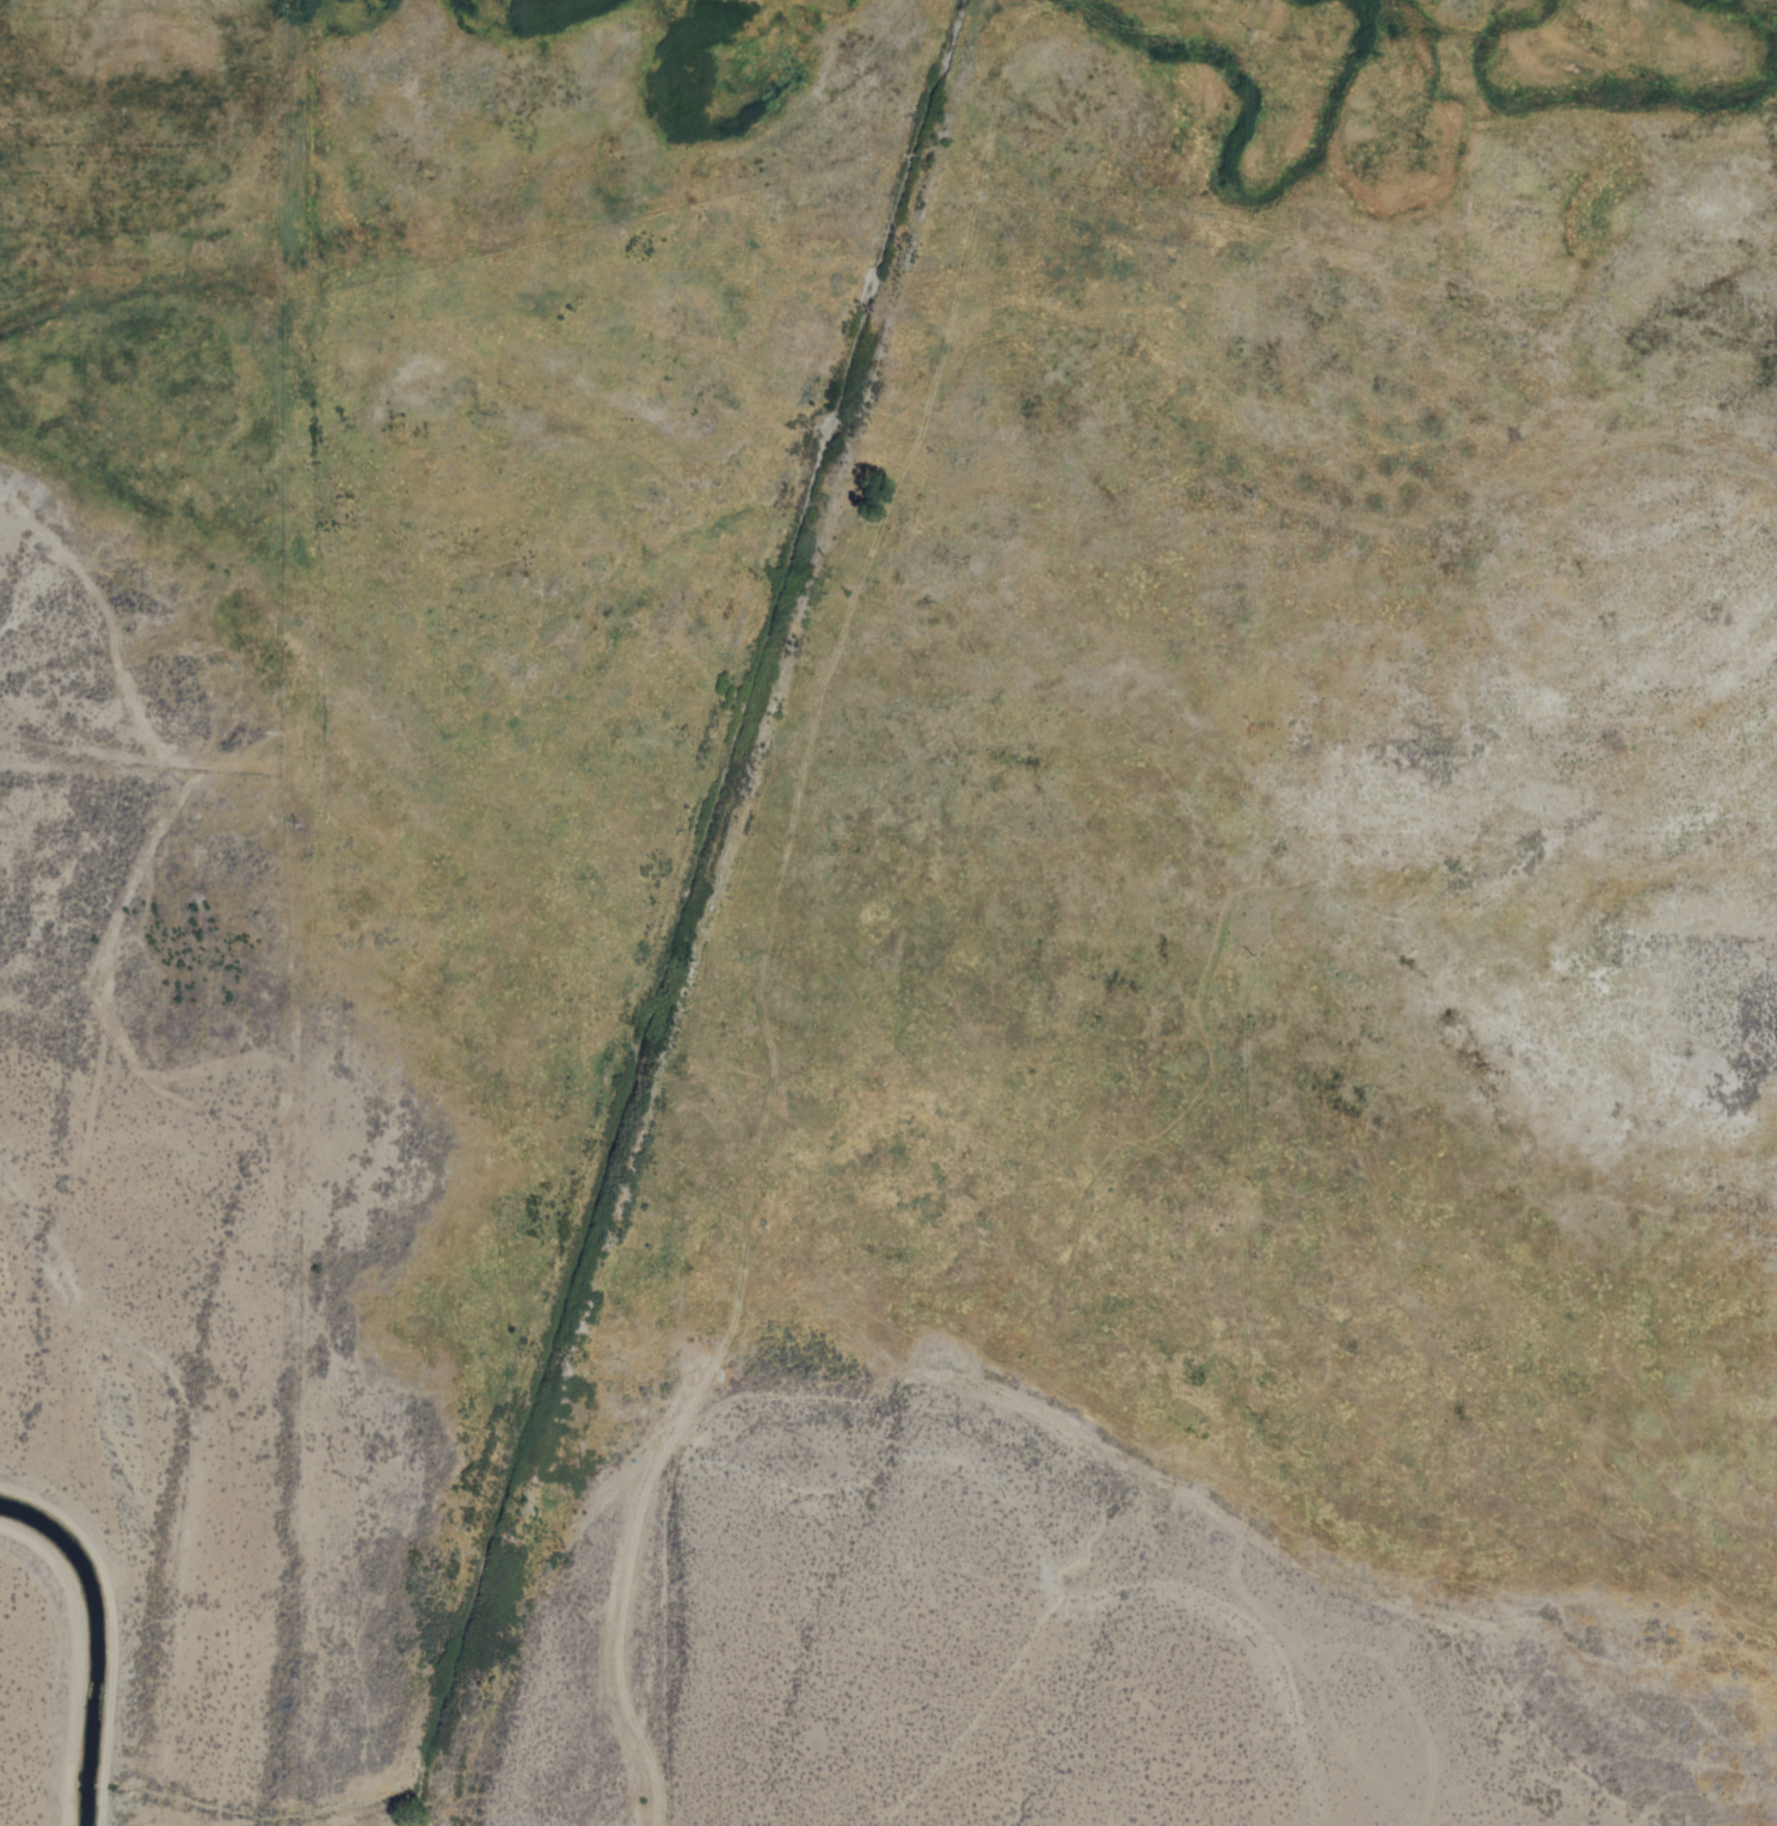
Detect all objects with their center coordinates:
road: (830, 659)
road: (111, 1628)
road: (79, 1655)

